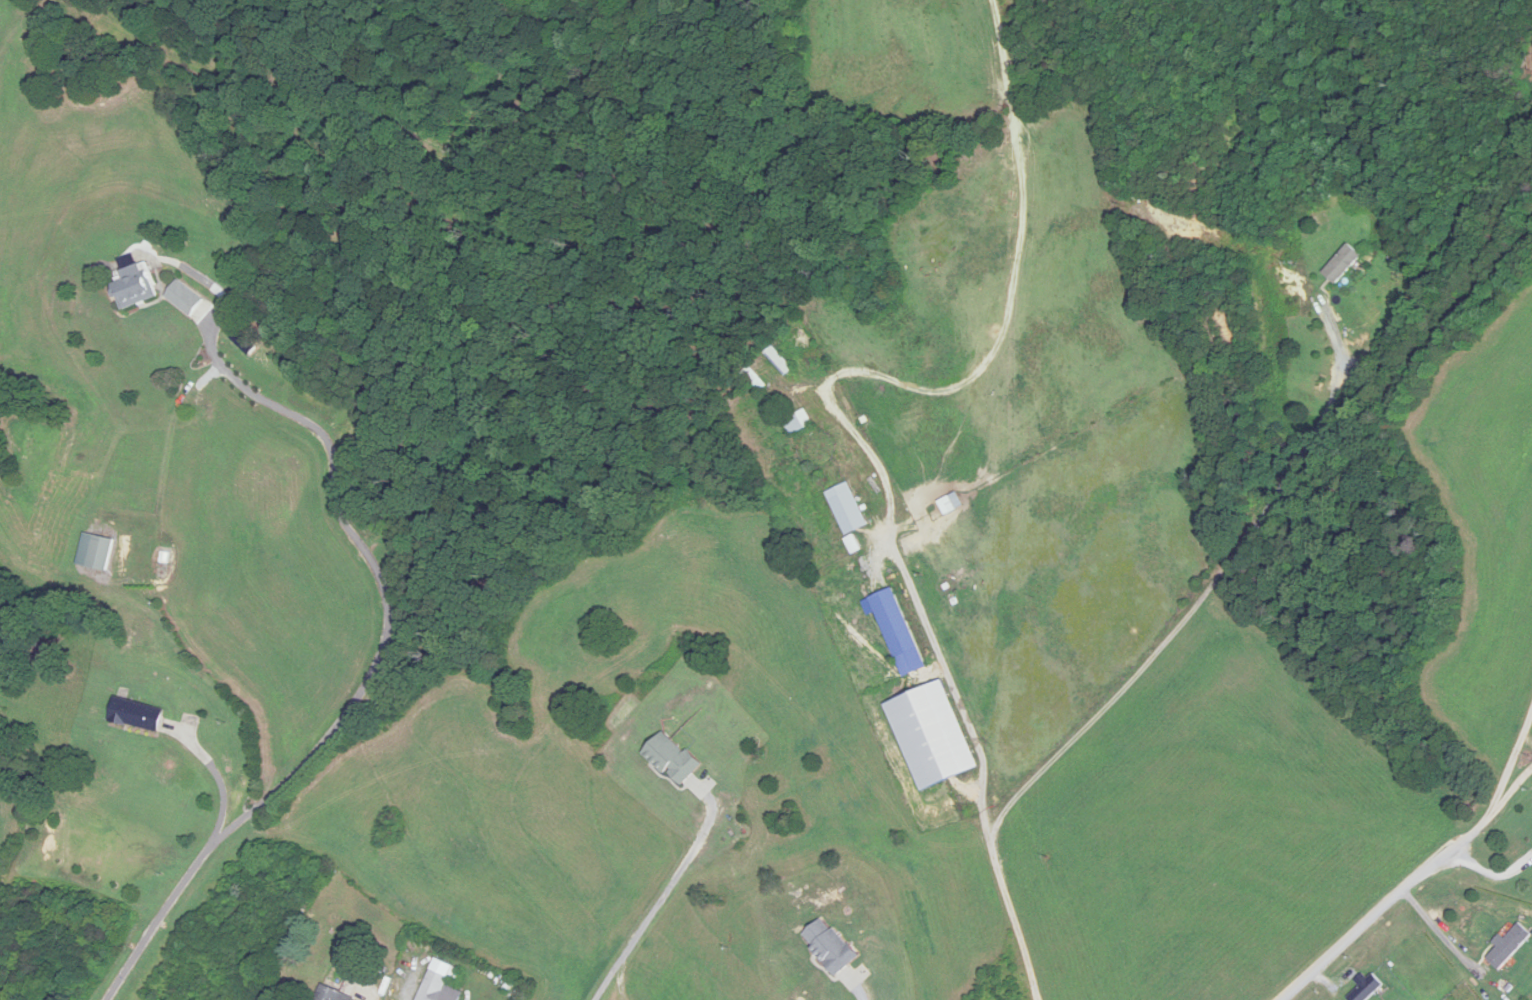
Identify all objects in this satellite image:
building: (1343, 263)
building: (135, 286)
building: (780, 360)
building: (755, 380)
building: (800, 422)
building: (952, 504)
building: (848, 509)
building: (96, 552)
building: (899, 633)
road: (1154, 653)
road: (376, 664)
building: (137, 715)
building: (933, 737)
building: (674, 760)
road: (1507, 773)
road: (218, 777)
road: (1504, 800)
road: (659, 904)
road: (1379, 911)
road: (1441, 932)
building: (1509, 946)
building: (831, 947)
building: (439, 983)
building: (1368, 989)
building: (332, 995)
road: (861, 997)

